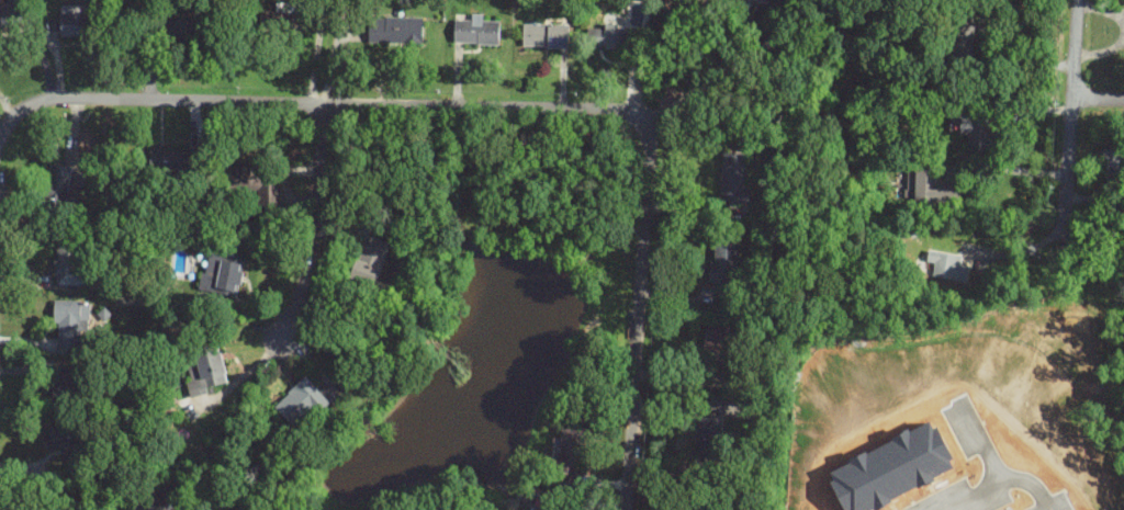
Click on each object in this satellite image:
building: (748, 1)
building: (765, 1)
building: (9, 18)
building: (283, 18)
building: (76, 20)
building: (180, 21)
building: (395, 29)
building: (477, 29)
building: (607, 34)
building: (547, 35)
building: (959, 36)
road: (758, 48)
road: (1099, 93)
road: (318, 102)
road: (1072, 118)
building: (976, 129)
road: (0, 137)
building: (171, 159)
building: (1112, 161)
building: (297, 168)
road: (1012, 169)
building: (247, 177)
building: (734, 177)
building: (58, 182)
building: (928, 185)
building: (263, 186)
road: (311, 224)
road: (1046, 237)
road: (1021, 249)
road: (992, 254)
building: (370, 259)
building: (68, 263)
building: (723, 264)
building: (946, 264)
building: (224, 273)
road: (636, 317)
building: (69, 322)
building: (716, 339)
building: (206, 370)
building: (302, 401)
building: (708, 427)
road: (981, 442)
building: (569, 451)
road: (999, 483)
building: (150, 503)

